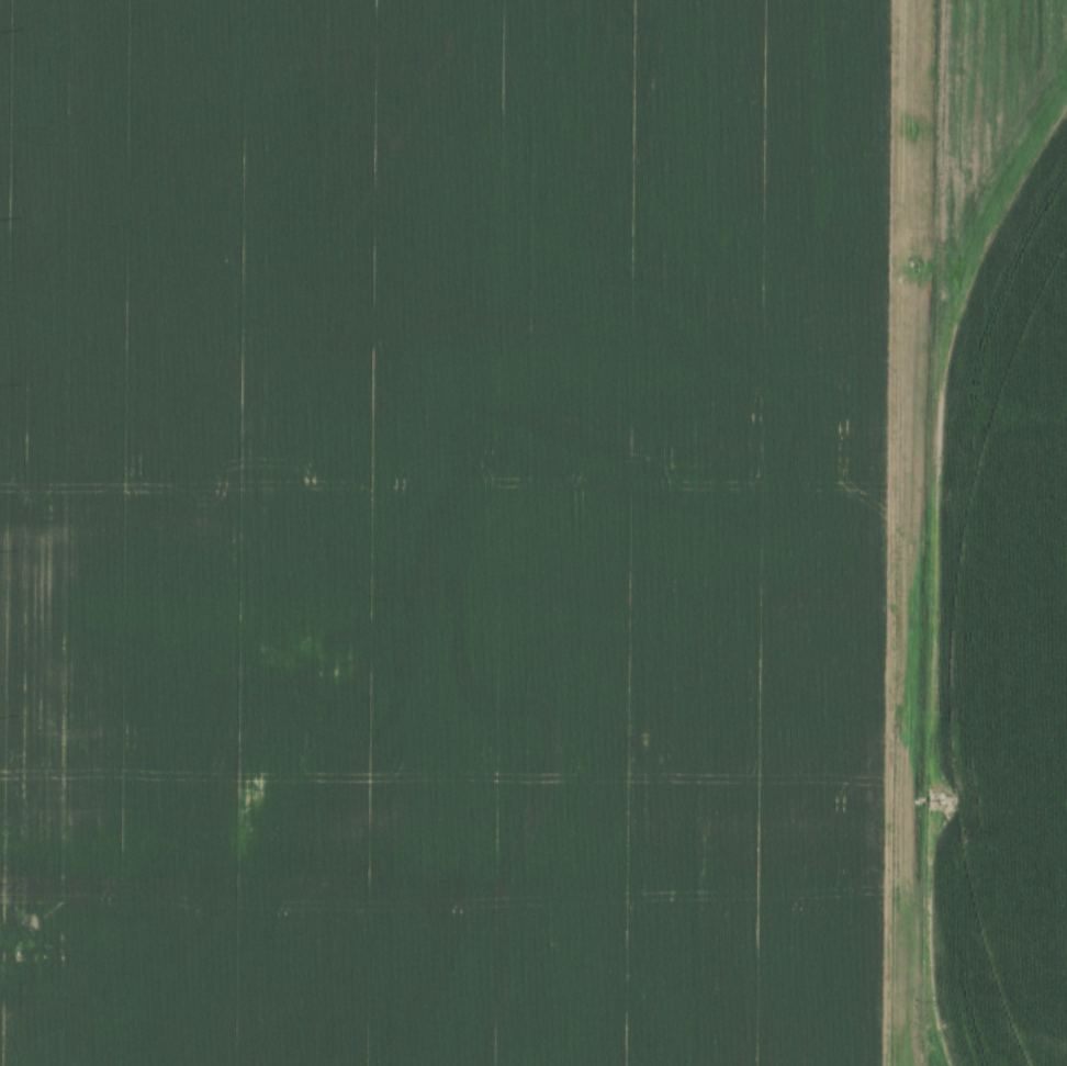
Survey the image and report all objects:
crop: (443, 531)

